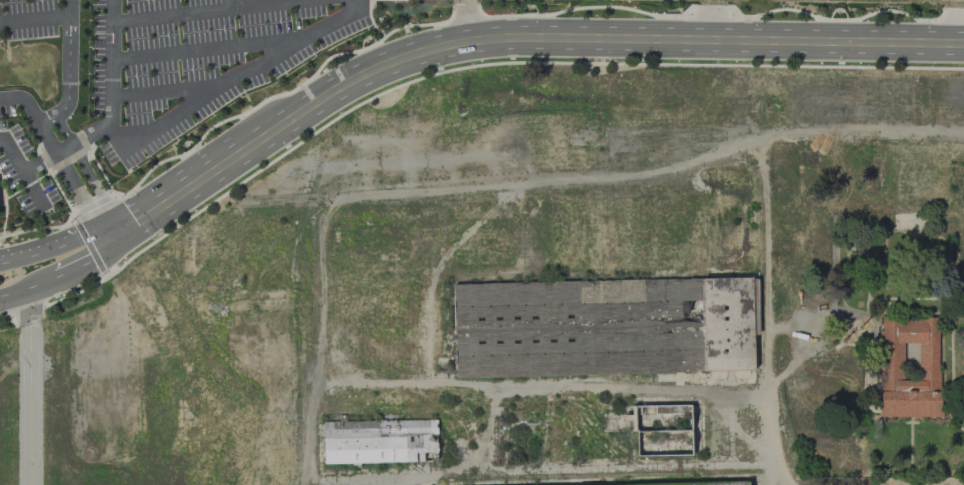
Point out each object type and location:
road: (277, 4)
road: (451, 12)
road: (174, 14)
parking lot: (27, 19)
road: (34, 19)
road: (371, 20)
road: (467, 20)
road: (365, 35)
road: (511, 39)
road: (210, 48)
road: (68, 60)
parking lot: (195, 61)
road: (110, 63)
road: (230, 78)
road: (165, 90)
road: (25, 101)
road: (48, 119)
road: (208, 129)
road: (183, 141)
road: (65, 147)
road: (11, 155)
road: (79, 160)
parking lot: (23, 167)
road: (65, 169)
road: (642, 171)
road: (55, 180)
road: (31, 189)
road: (107, 197)
road: (3, 215)
road: (105, 221)
road: (52, 226)
road: (93, 236)
road: (87, 245)
road: (36, 250)
road: (87, 260)
road: (41, 282)
road: (14, 293)
road: (766, 306)
building: (602, 326)
building: (928, 361)
road: (594, 386)
road: (28, 387)
building: (663, 430)
building: (379, 441)
road: (576, 466)
road: (779, 475)
building: (697, 483)

